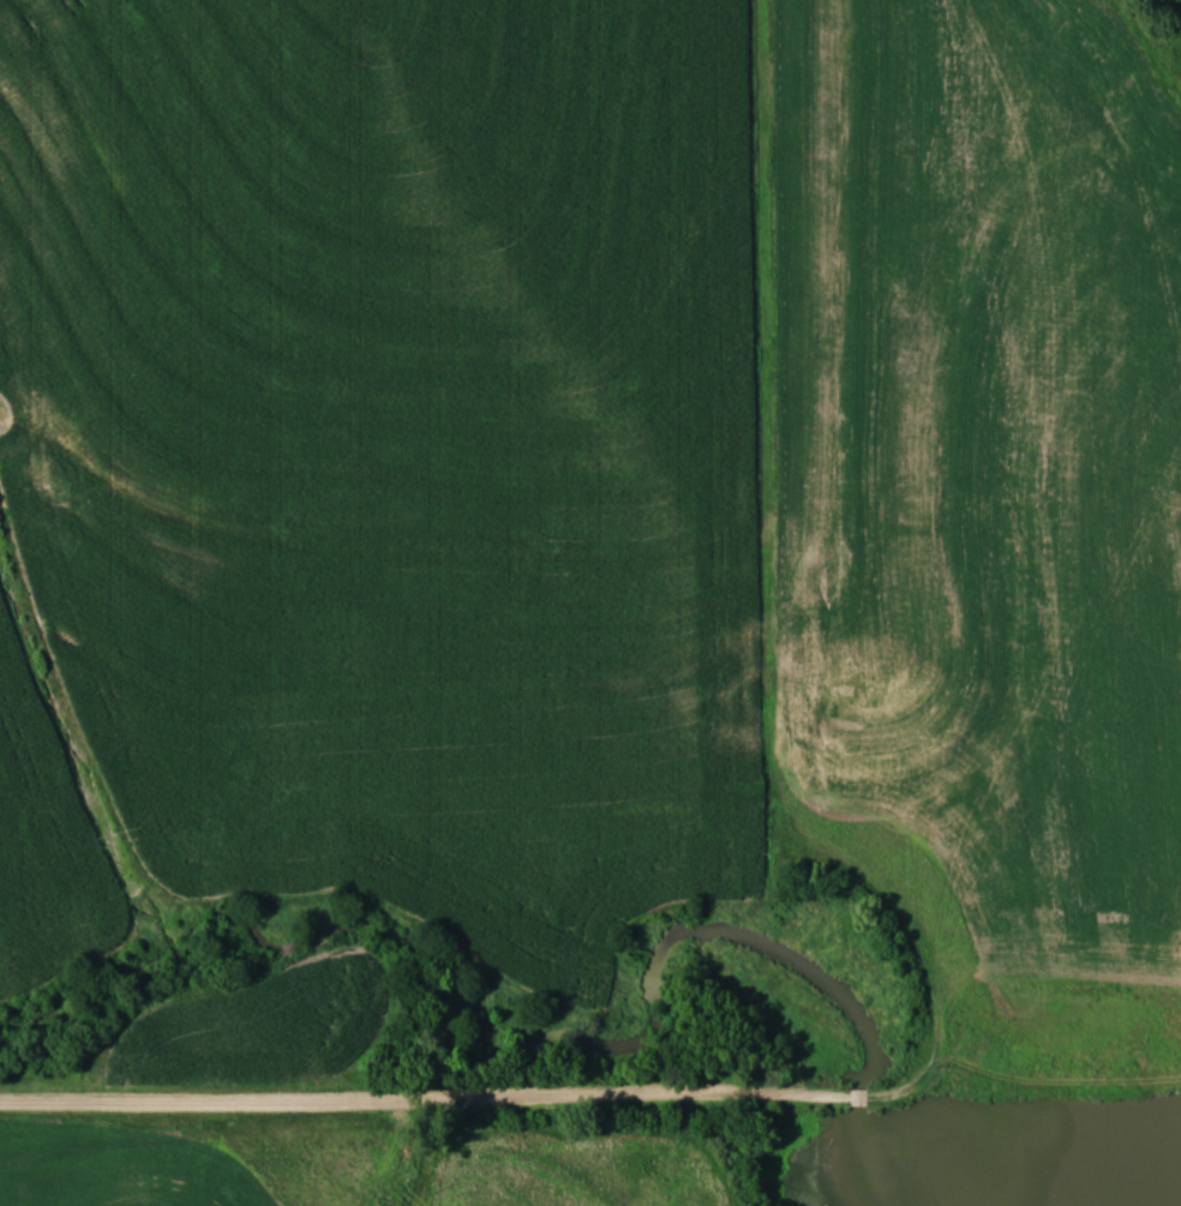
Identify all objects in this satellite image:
road: (416, 1097)

